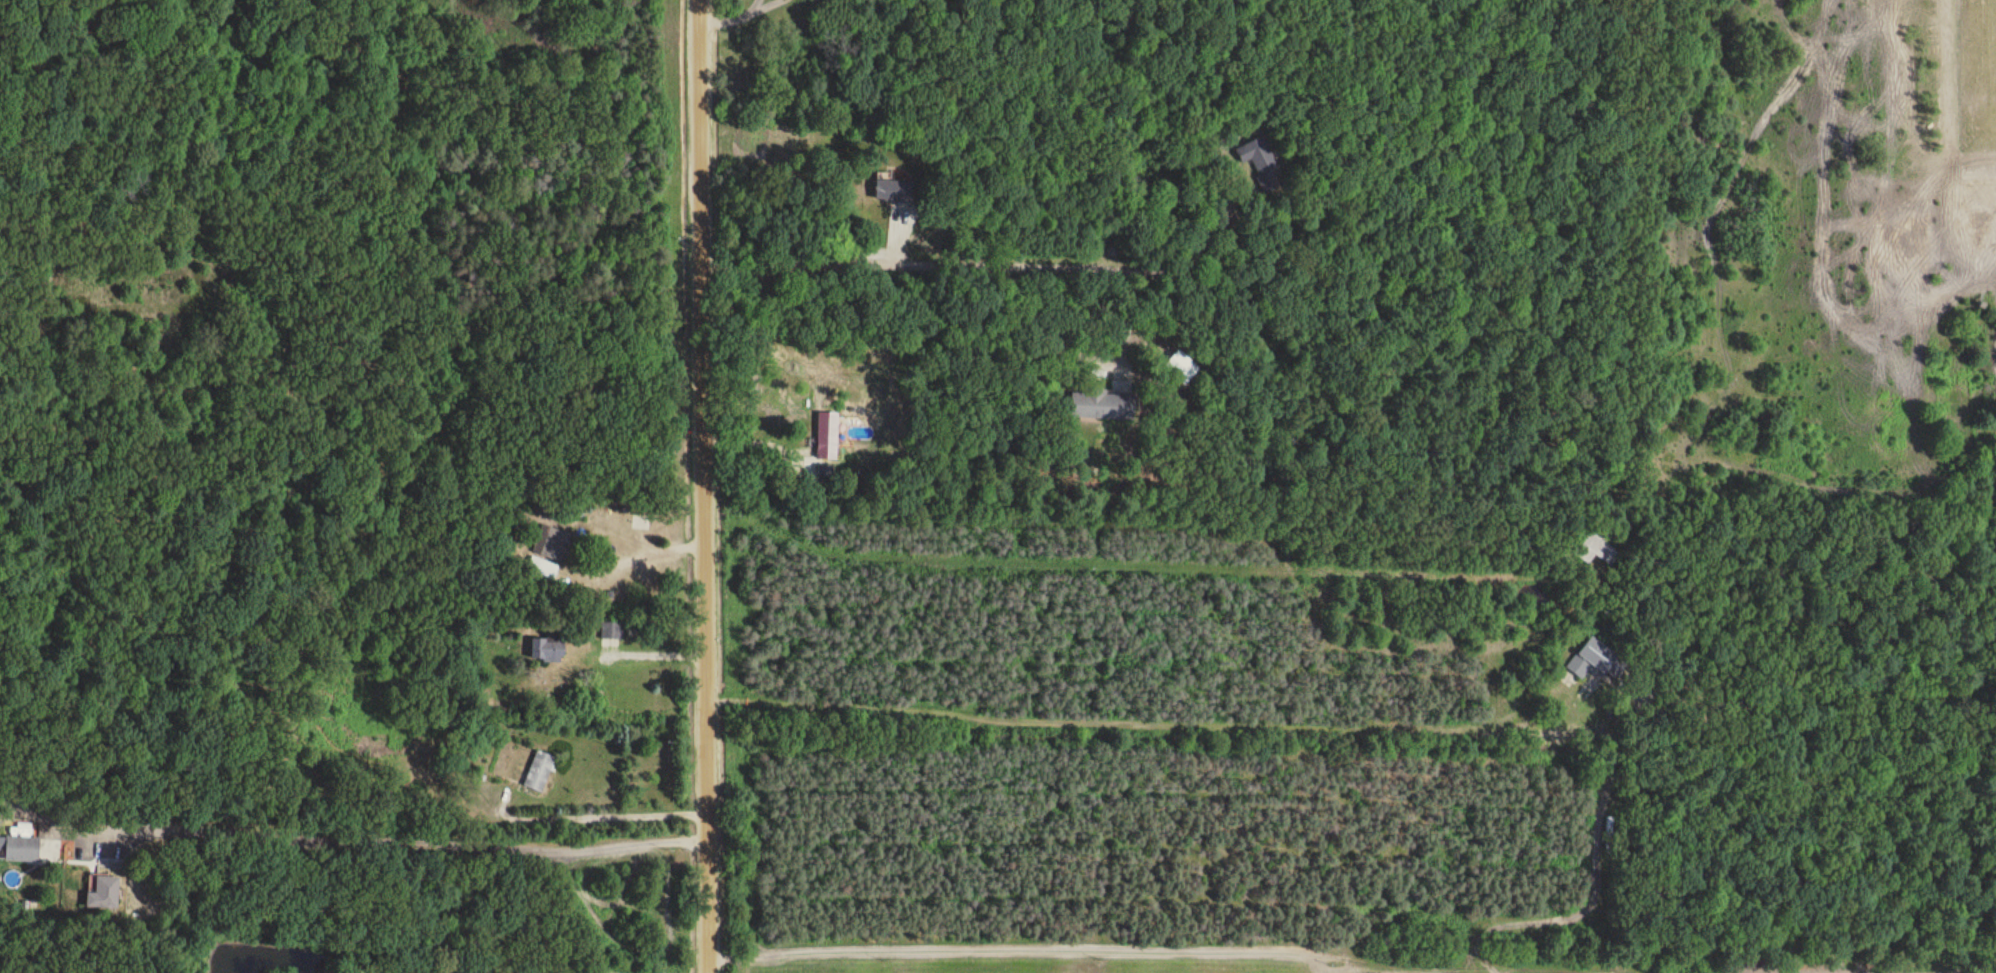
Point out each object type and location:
building: (1261, 159)
building: (895, 189)
road: (989, 265)
road: (1124, 311)
building: (1103, 404)
building: (827, 434)
road: (757, 442)
road: (704, 486)
building: (552, 541)
building: (1597, 547)
road: (646, 554)
road: (1125, 562)
building: (542, 570)
building: (613, 629)
building: (549, 648)
road: (656, 652)
building: (1597, 658)
road: (1395, 727)
building: (540, 769)
building: (1609, 833)
road: (407, 840)
building: (24, 847)
building: (108, 891)
road: (1017, 949)
road: (1514, 971)

